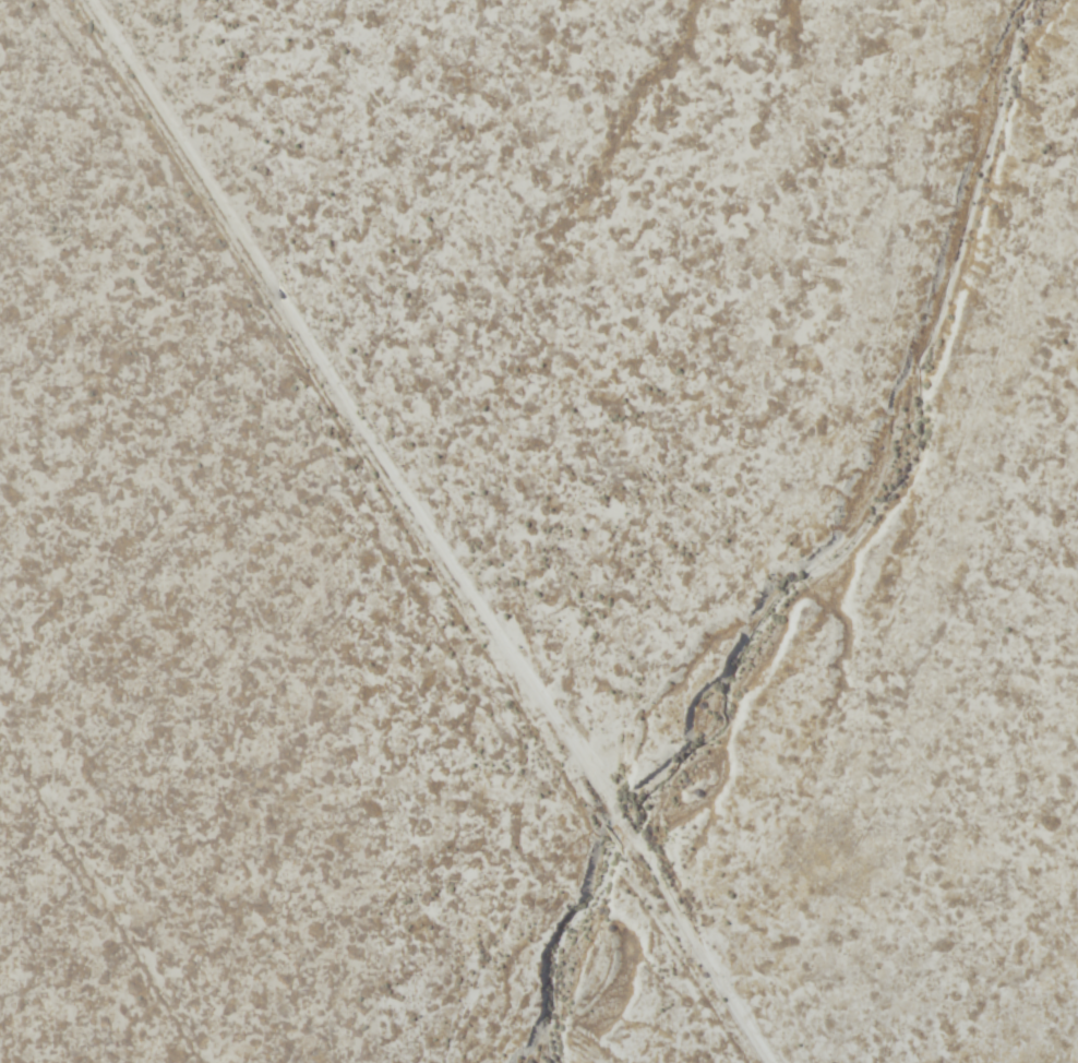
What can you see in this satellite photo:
road: (403, 540)

